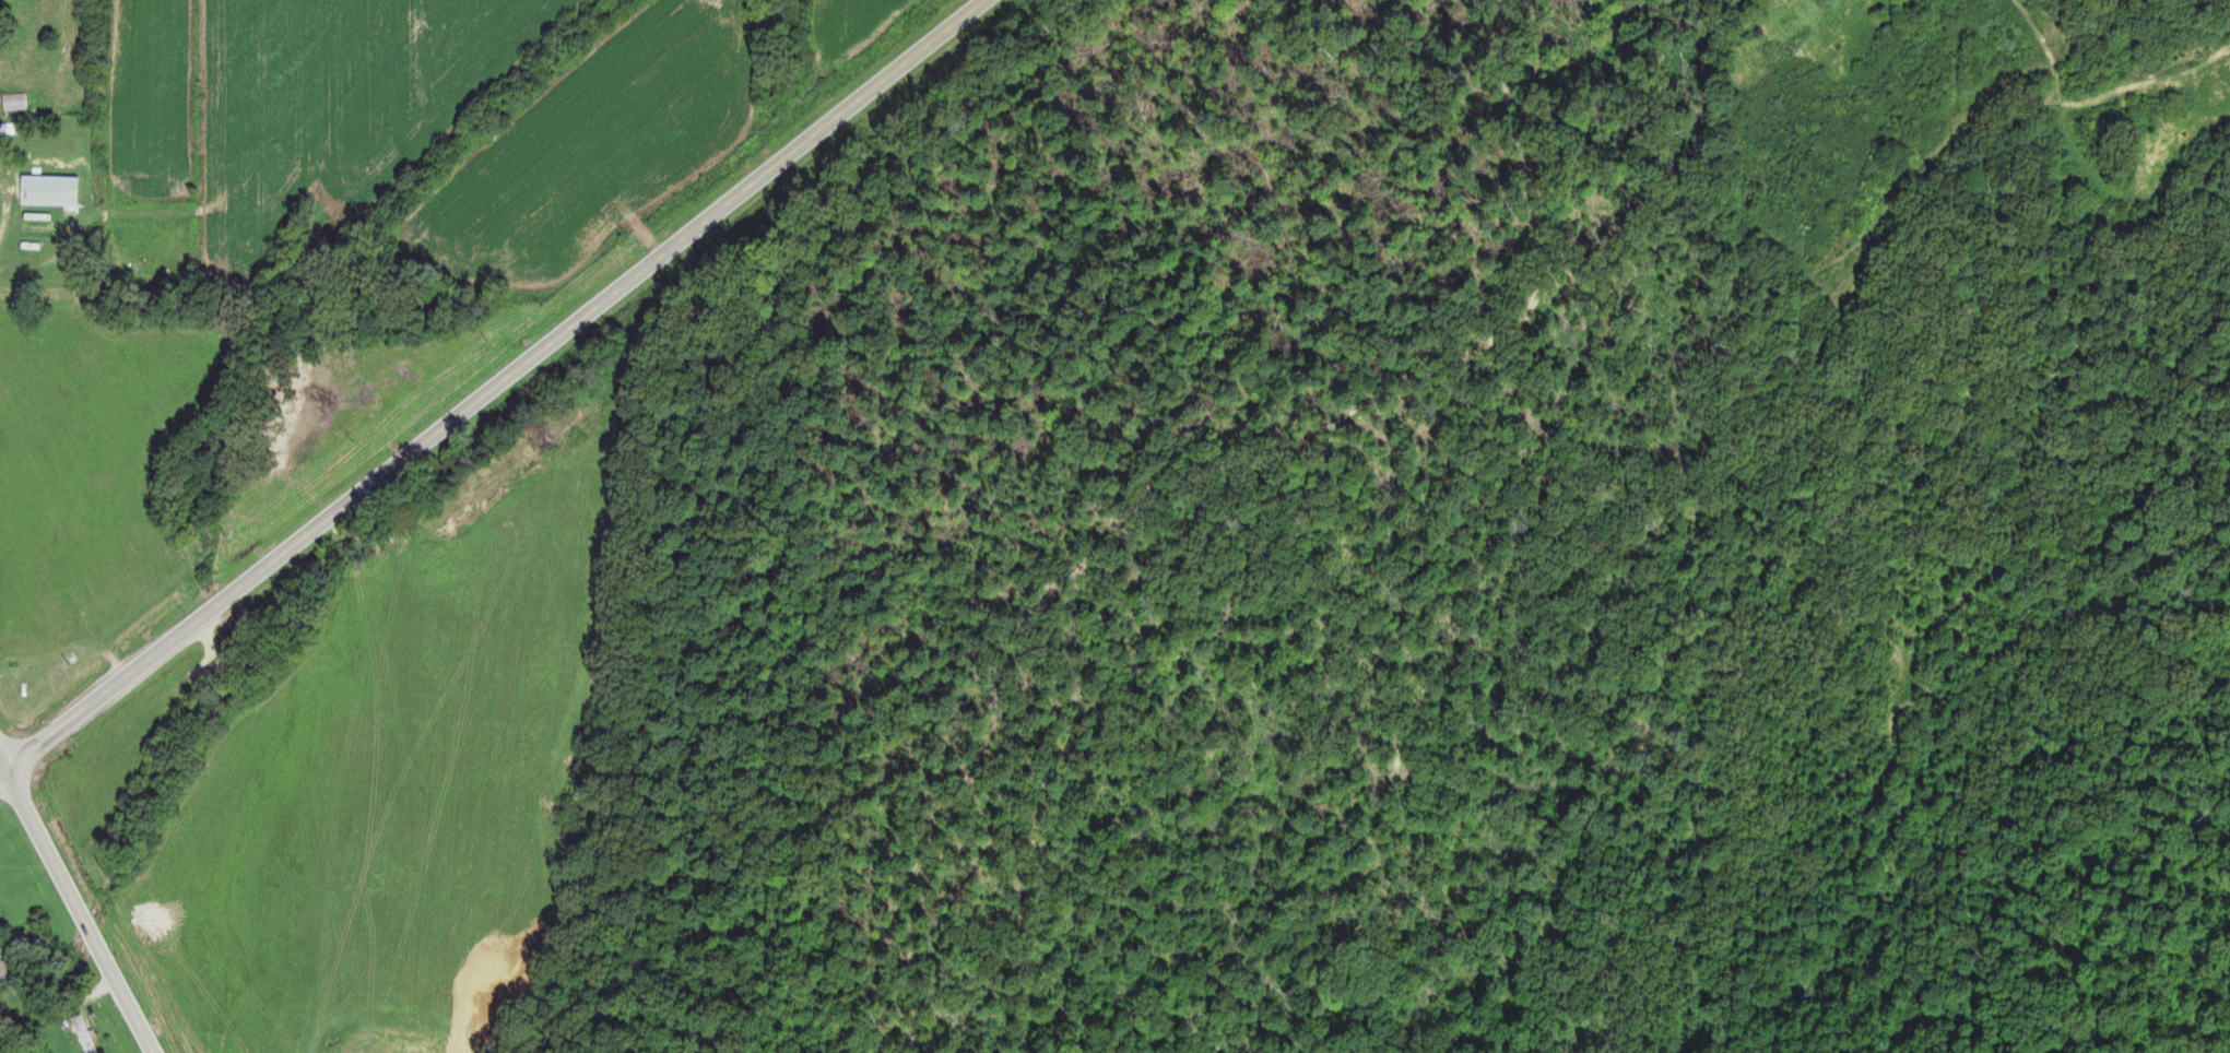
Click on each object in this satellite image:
building: (15, 102)
building: (50, 191)
road: (495, 383)
road: (1, 767)
road: (75, 906)
building: (10, 973)
building: (85, 1034)

